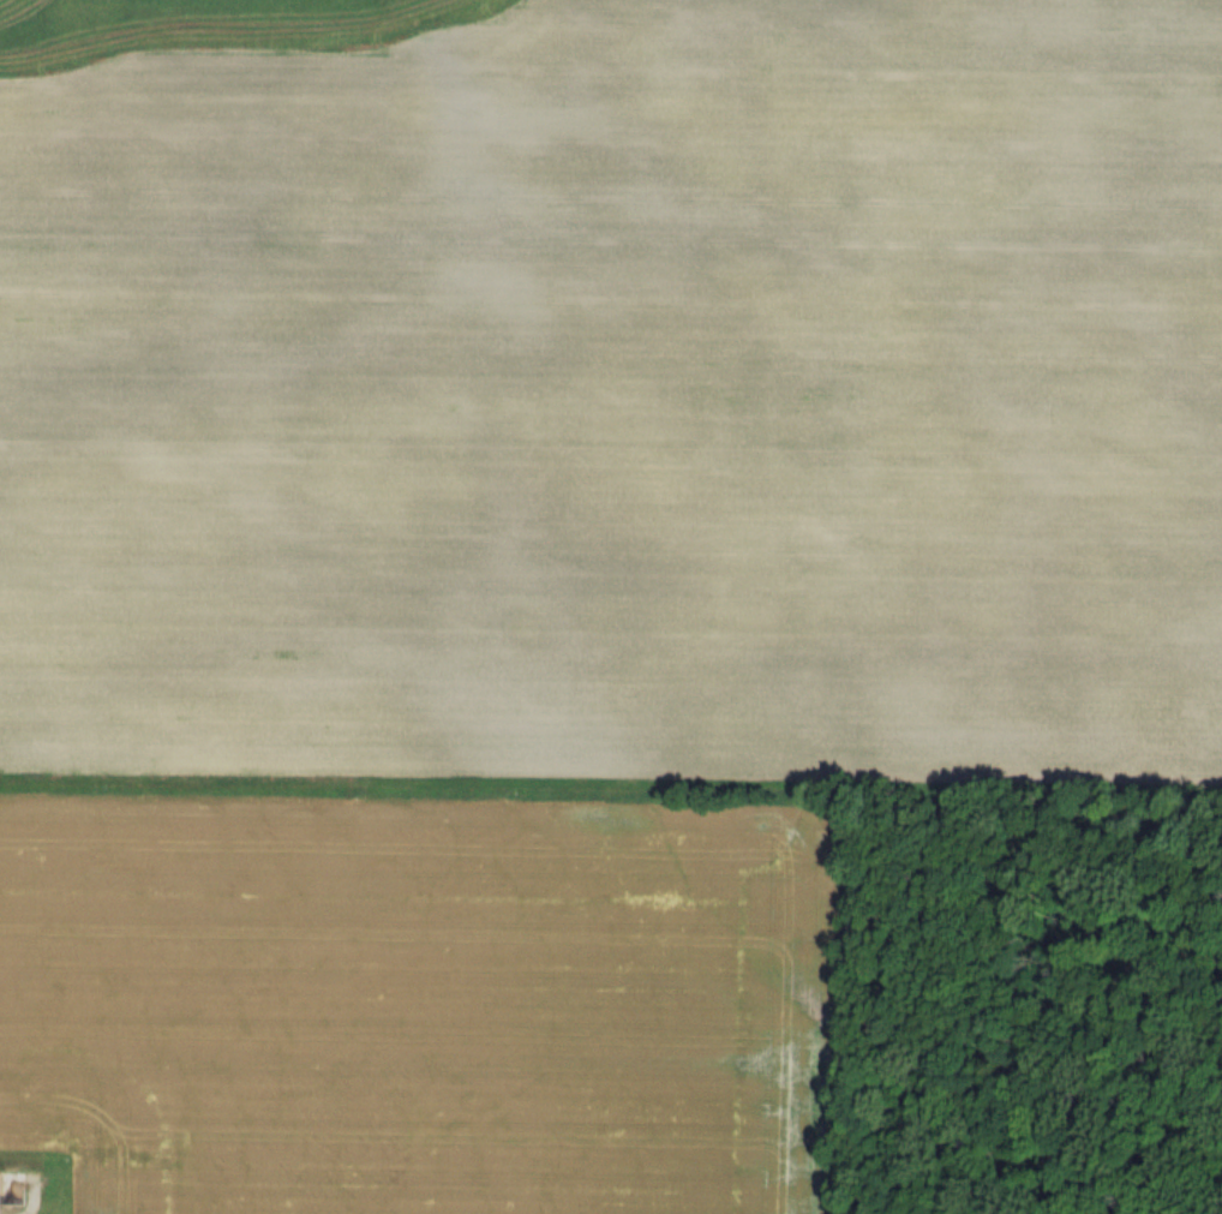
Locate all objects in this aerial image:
building: (0, 1180)

